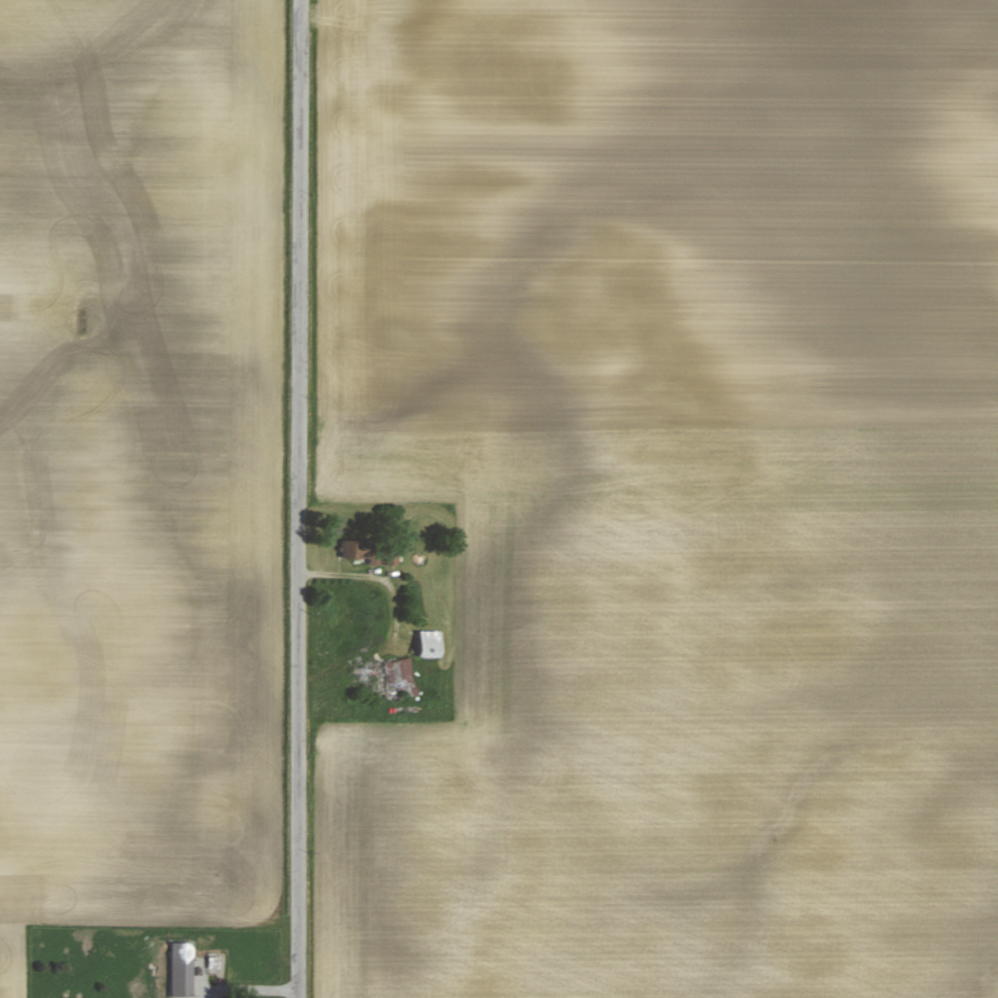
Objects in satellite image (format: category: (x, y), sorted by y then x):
road: (300, 498)
building: (354, 548)
building: (427, 643)
building: (376, 679)
building: (180, 969)

